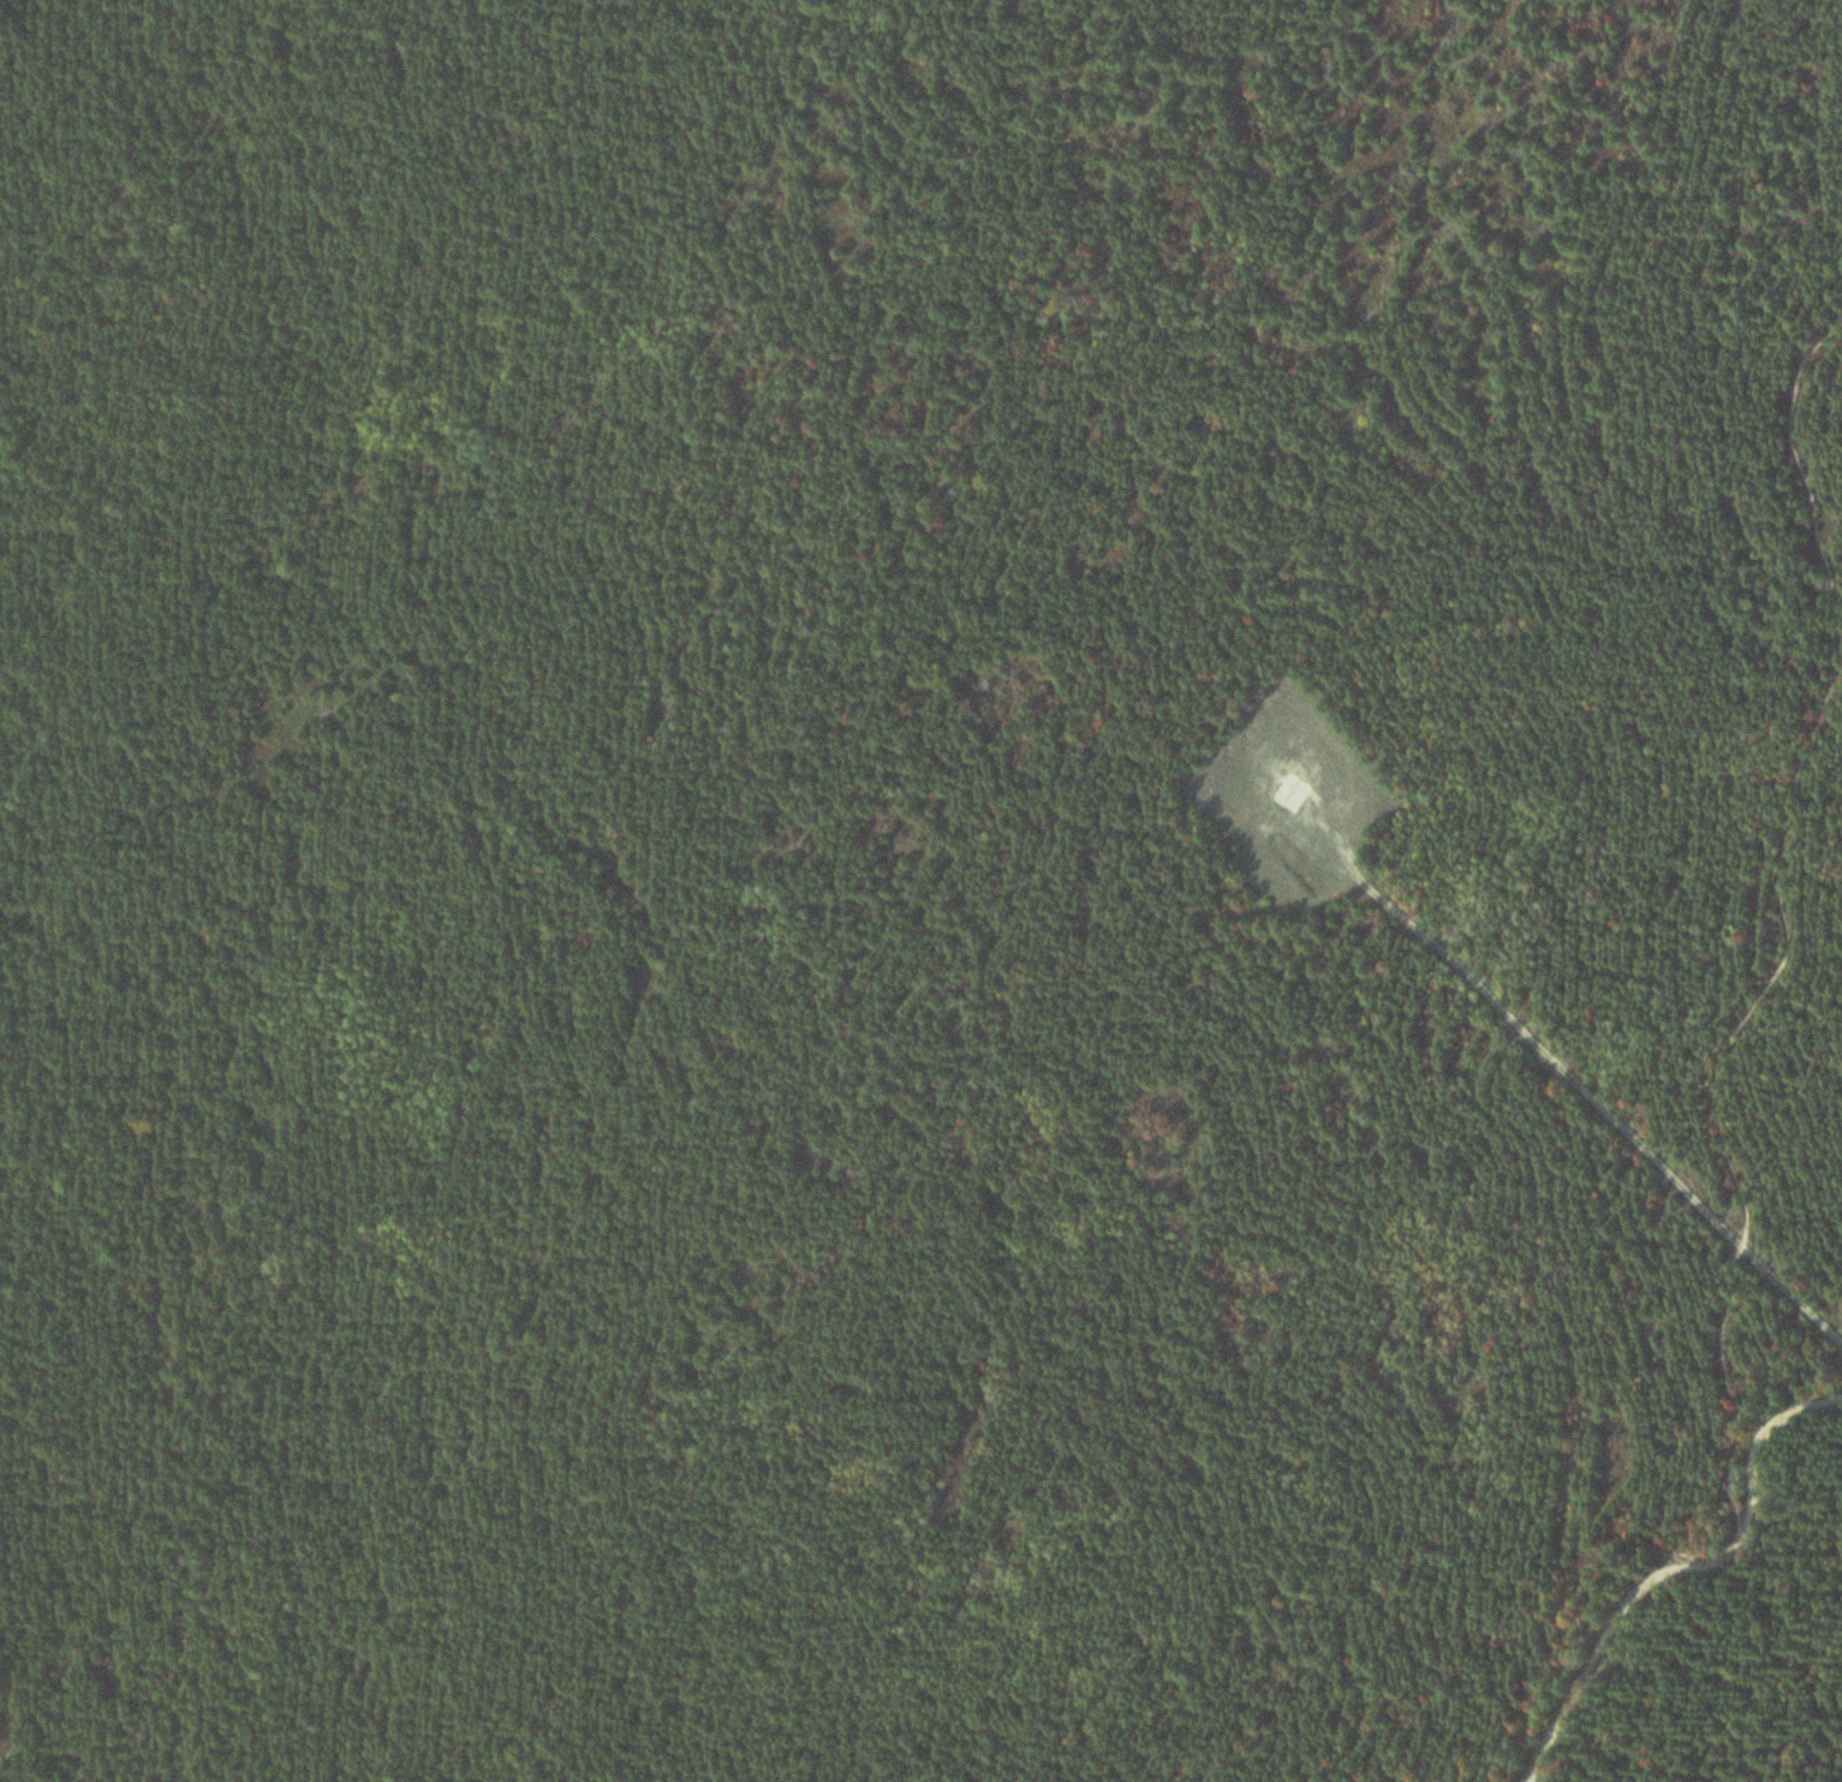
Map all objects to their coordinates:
road: (1593, 1091)
road: (1712, 1104)
road: (1682, 1572)

